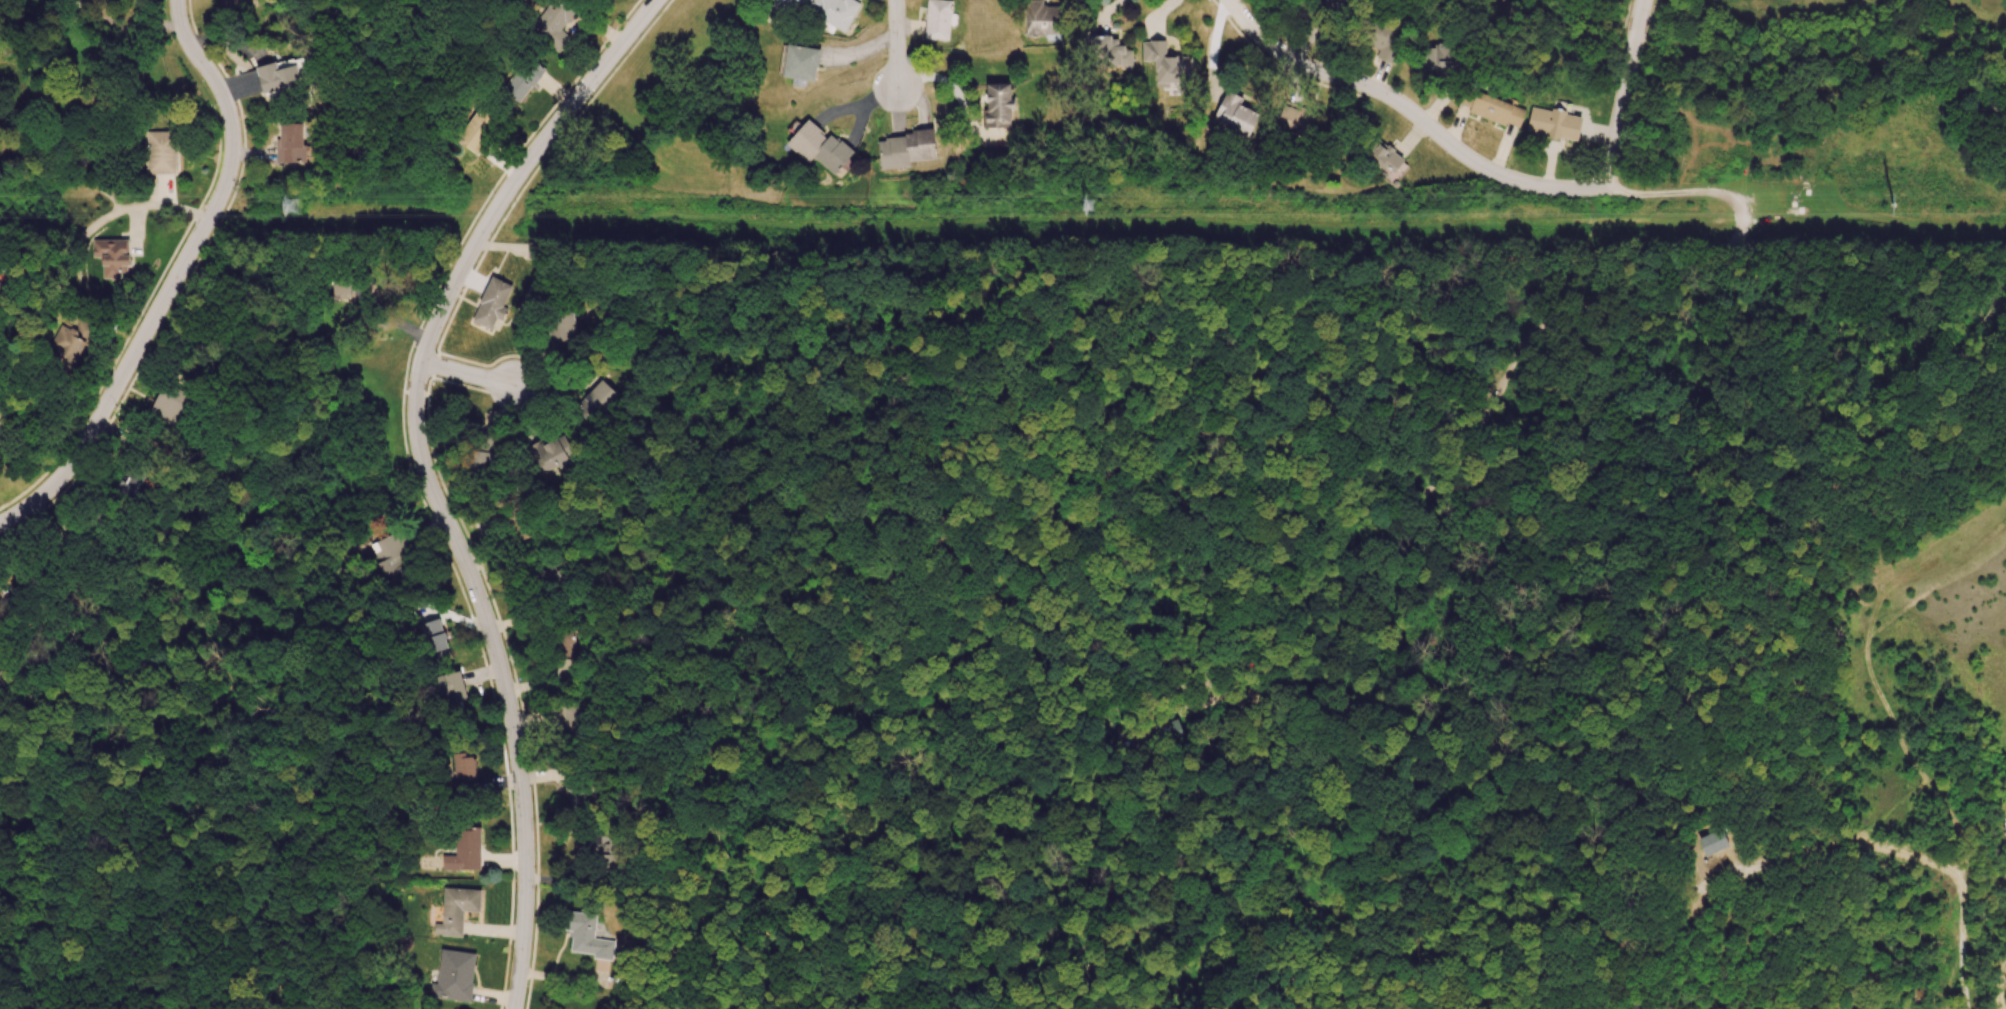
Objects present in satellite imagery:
building: (228, 7)
building: (820, 10)
building: (1040, 18)
building: (938, 19)
building: (552, 23)
building: (1384, 40)
road: (897, 44)
building: (1105, 51)
building: (1439, 59)
building: (798, 63)
building: (1167, 64)
building: (277, 78)
building: (522, 79)
road: (1624, 93)
road: (117, 101)
building: (998, 105)
road: (1408, 109)
building: (1496, 110)
building: (1235, 114)
building: (1294, 117)
building: (1554, 123)
building: (476, 128)
building: (290, 143)
building: (820, 148)
building: (905, 149)
building: (161, 152)
building: (1382, 155)
road: (1677, 192)
power tower: (284, 204)
power tower: (1975, 204)
power tower: (1081, 205)
road: (75, 240)
building: (112, 256)
road: (173, 278)
building: (341, 288)
building: (491, 306)
building: (563, 326)
building: (66, 345)
road: (467, 374)
building: (596, 401)
building: (167, 405)
building: (2, 422)
building: (553, 450)
road: (426, 475)
building: (128, 486)
building: (433, 639)
building: (449, 688)
building: (463, 772)
building: (464, 851)
building: (605, 853)
building: (458, 908)
building: (587, 936)
building: (454, 976)

